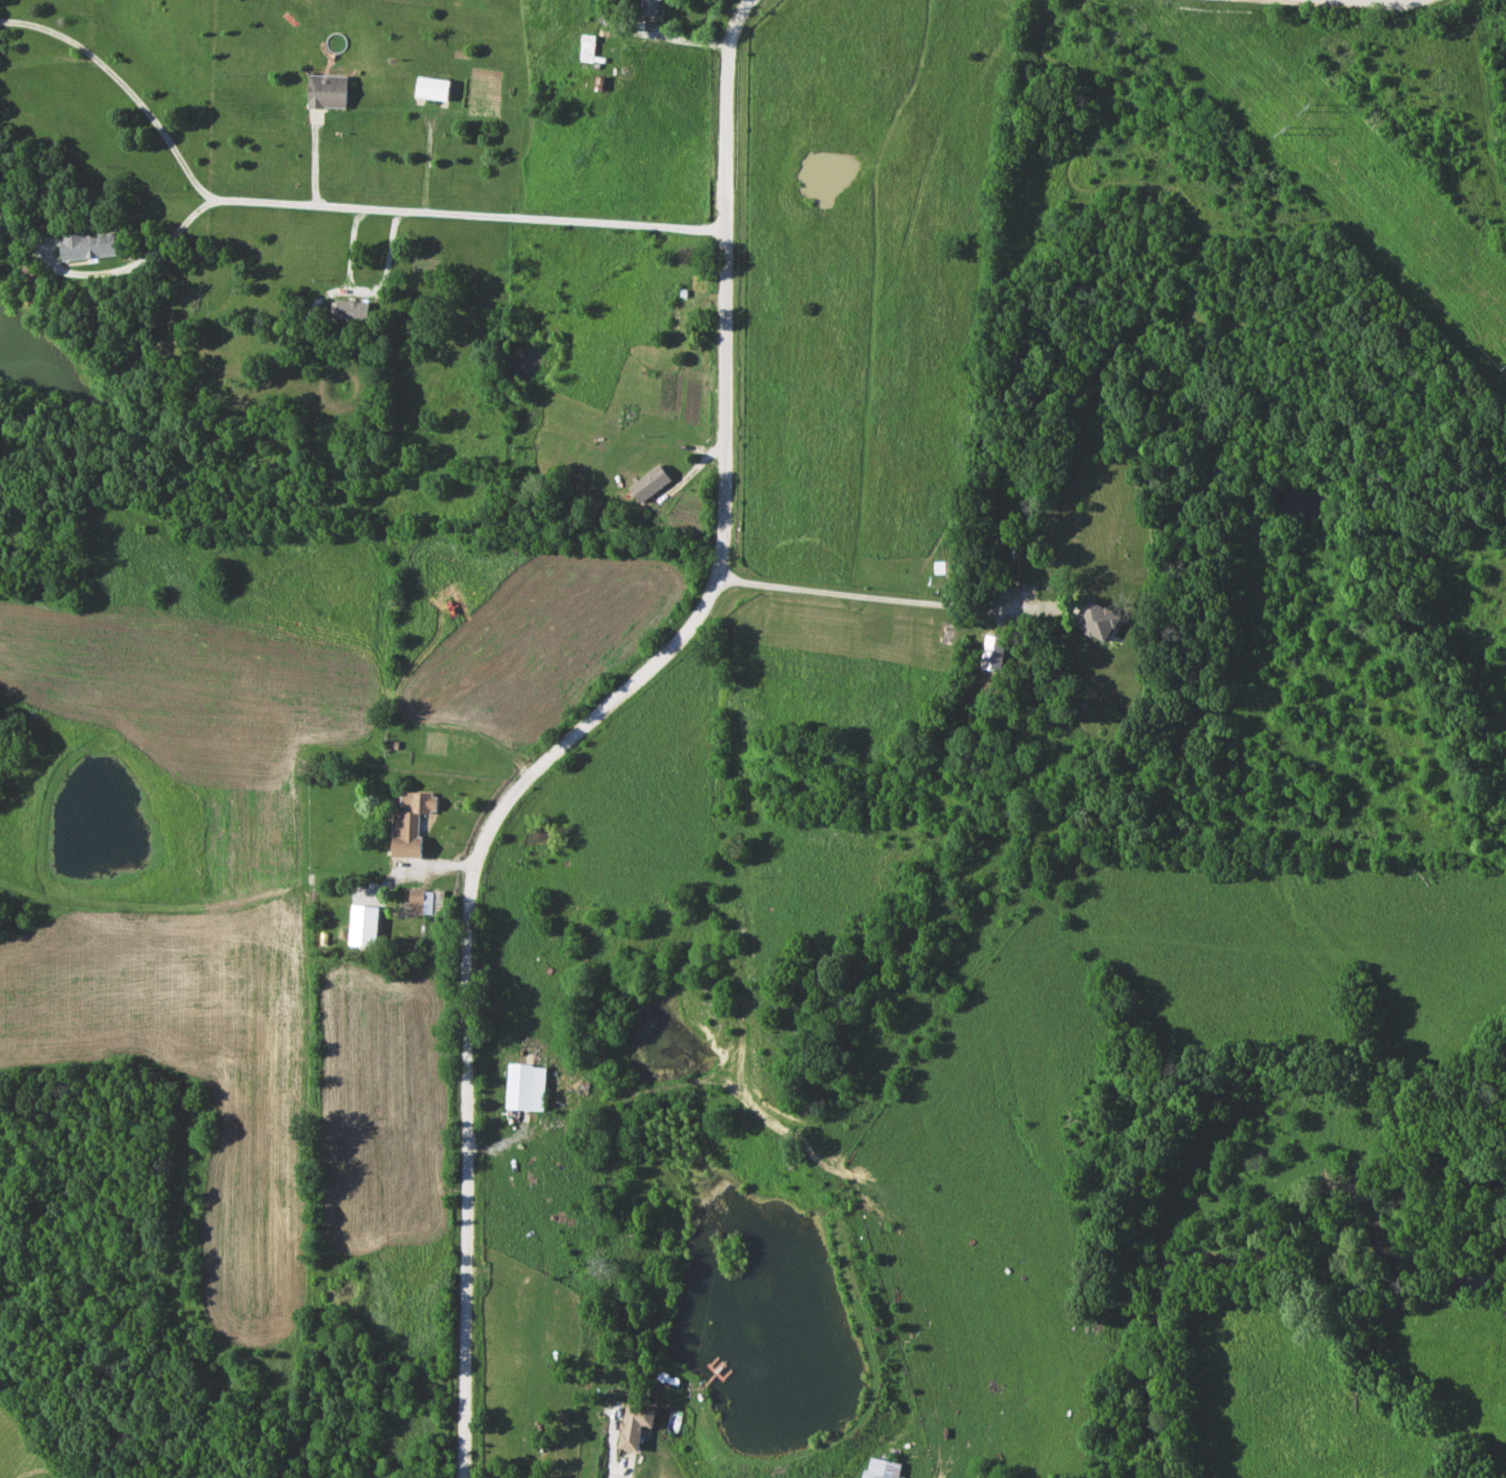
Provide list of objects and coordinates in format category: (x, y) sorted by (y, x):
building: (652, 8)
road: (1324, 8)
building: (589, 48)
building: (435, 89)
building: (329, 92)
power tower: (1312, 110)
power tower: (1288, 130)
road: (325, 205)
building: (5, 213)
building: (89, 246)
road: (127, 264)
building: (353, 311)
building: (312, 325)
building: (652, 484)
building: (953, 568)
road: (896, 600)
building: (1099, 621)
road: (589, 732)
building: (411, 823)
road: (425, 864)
building: (421, 902)
building: (527, 1088)
building: (637, 1425)
building: (883, 1468)

